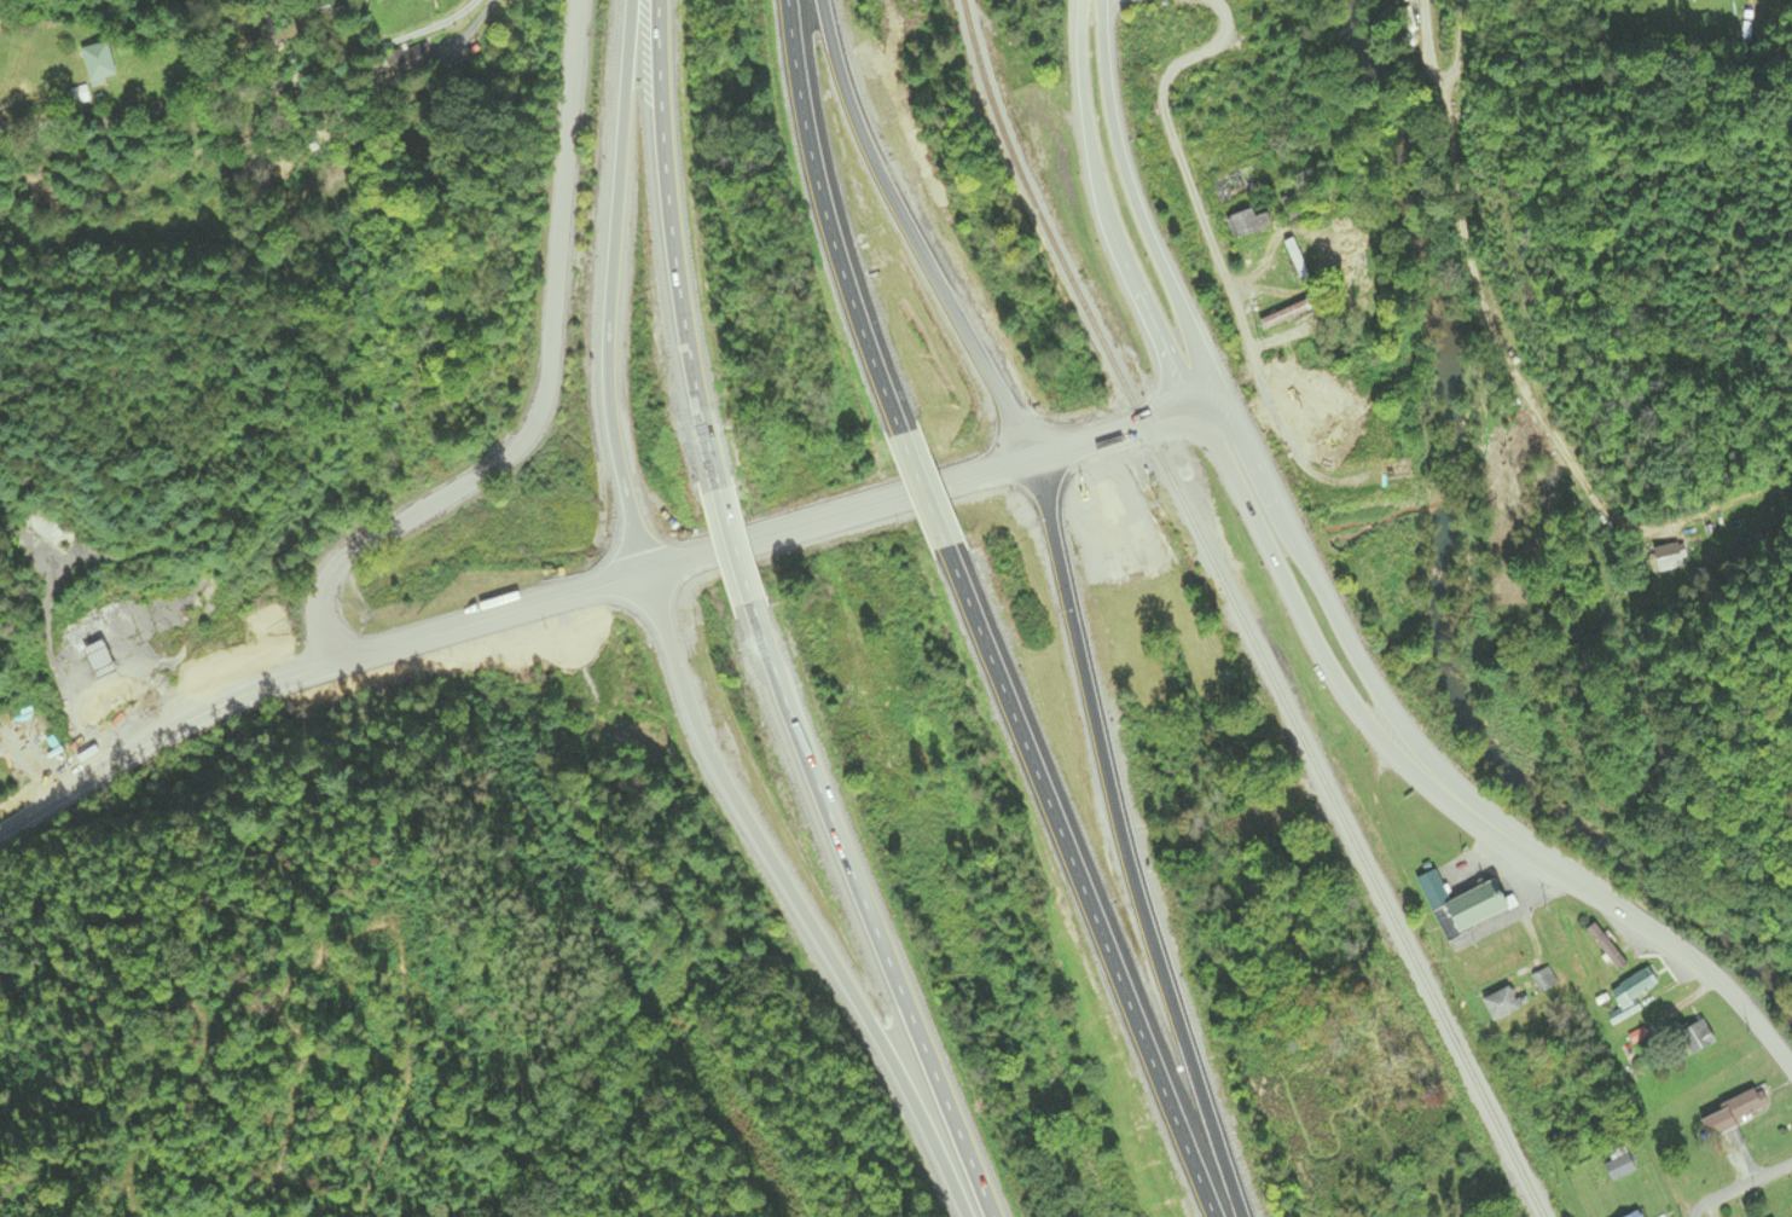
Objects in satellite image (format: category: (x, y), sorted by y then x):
building: (1393, 0)
road: (1454, 47)
building: (405, 59)
building: (94, 63)
road: (248, 93)
building: (1231, 186)
road: (1138, 208)
road: (1107, 213)
road: (828, 218)
building: (1246, 224)
road: (915, 234)
road: (1480, 239)
road: (674, 242)
road: (1214, 251)
building: (1294, 260)
road: (605, 286)
building: (1283, 315)
road: (545, 387)
road: (936, 487)
road: (923, 488)
building: (54, 535)
road: (729, 541)
building: (1666, 558)
river: (1450, 574)
railway: (1240, 614)
building: (87, 642)
road: (1365, 667)
road: (309, 673)
road: (1340, 684)
road: (1126, 841)
road: (1083, 882)
road: (795, 898)
building: (1462, 904)
road: (865, 909)
building: (1605, 947)
road: (1694, 961)
building: (1545, 981)
building: (1629, 996)
building: (1500, 1004)
building: (1695, 1037)
building: (1741, 1106)
building: (1619, 1165)
road: (1741, 1189)
building: (1634, 1215)
road: (1692, 1215)

